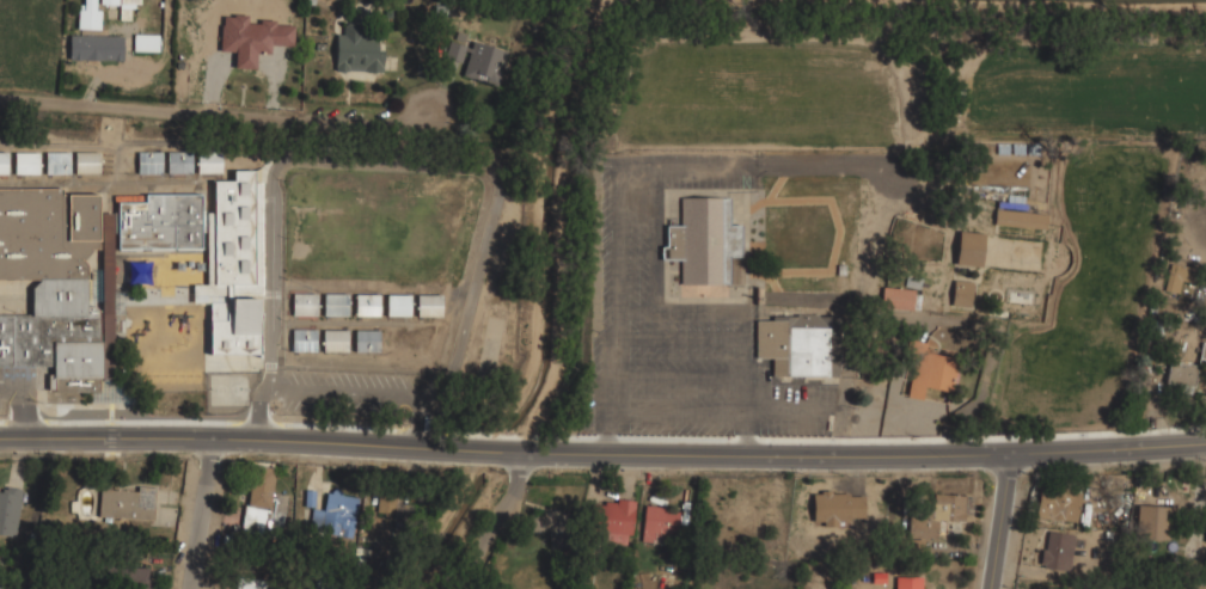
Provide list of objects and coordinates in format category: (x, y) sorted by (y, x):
building: (258, 8)
building: (90, 12)
building: (137, 42)
building: (356, 51)
building: (477, 60)
road: (196, 109)
crop: (950, 137)
road: (398, 158)
building: (178, 161)
building: (4, 162)
building: (25, 162)
building: (57, 162)
building: (86, 162)
building: (149, 162)
building: (209, 162)
building: (925, 184)
building: (1020, 219)
building: (160, 222)
building: (702, 240)
building: (968, 249)
road: (617, 252)
building: (232, 265)
building: (1177, 275)
building: (57, 281)
building: (960, 292)
building: (900, 297)
building: (304, 305)
building: (335, 305)
building: (366, 305)
building: (398, 305)
building: (428, 305)
road: (686, 311)
parking lot: (678, 320)
building: (302, 339)
building: (335, 340)
building: (366, 340)
building: (791, 345)
building: (1202, 350)
building: (931, 373)
building: (1180, 375)
road: (660, 378)
parking lot: (17, 382)
road: (11, 388)
park: (228, 388)
road: (742, 391)
parking lot: (342, 393)
road: (343, 394)
road: (657, 410)
road: (784, 410)
road: (24, 416)
road: (602, 453)
building: (265, 495)
building: (126, 503)
building: (1058, 503)
building: (394, 507)
building: (837, 508)
building: (8, 510)
road: (203, 513)
building: (333, 514)
building: (936, 515)
building: (252, 520)
road: (498, 520)
building: (547, 521)
building: (612, 521)
road: (1000, 521)
building: (1151, 521)
building: (660, 523)
building: (459, 542)
building: (1057, 551)
building: (120, 577)
building: (908, 582)
building: (249, 583)

